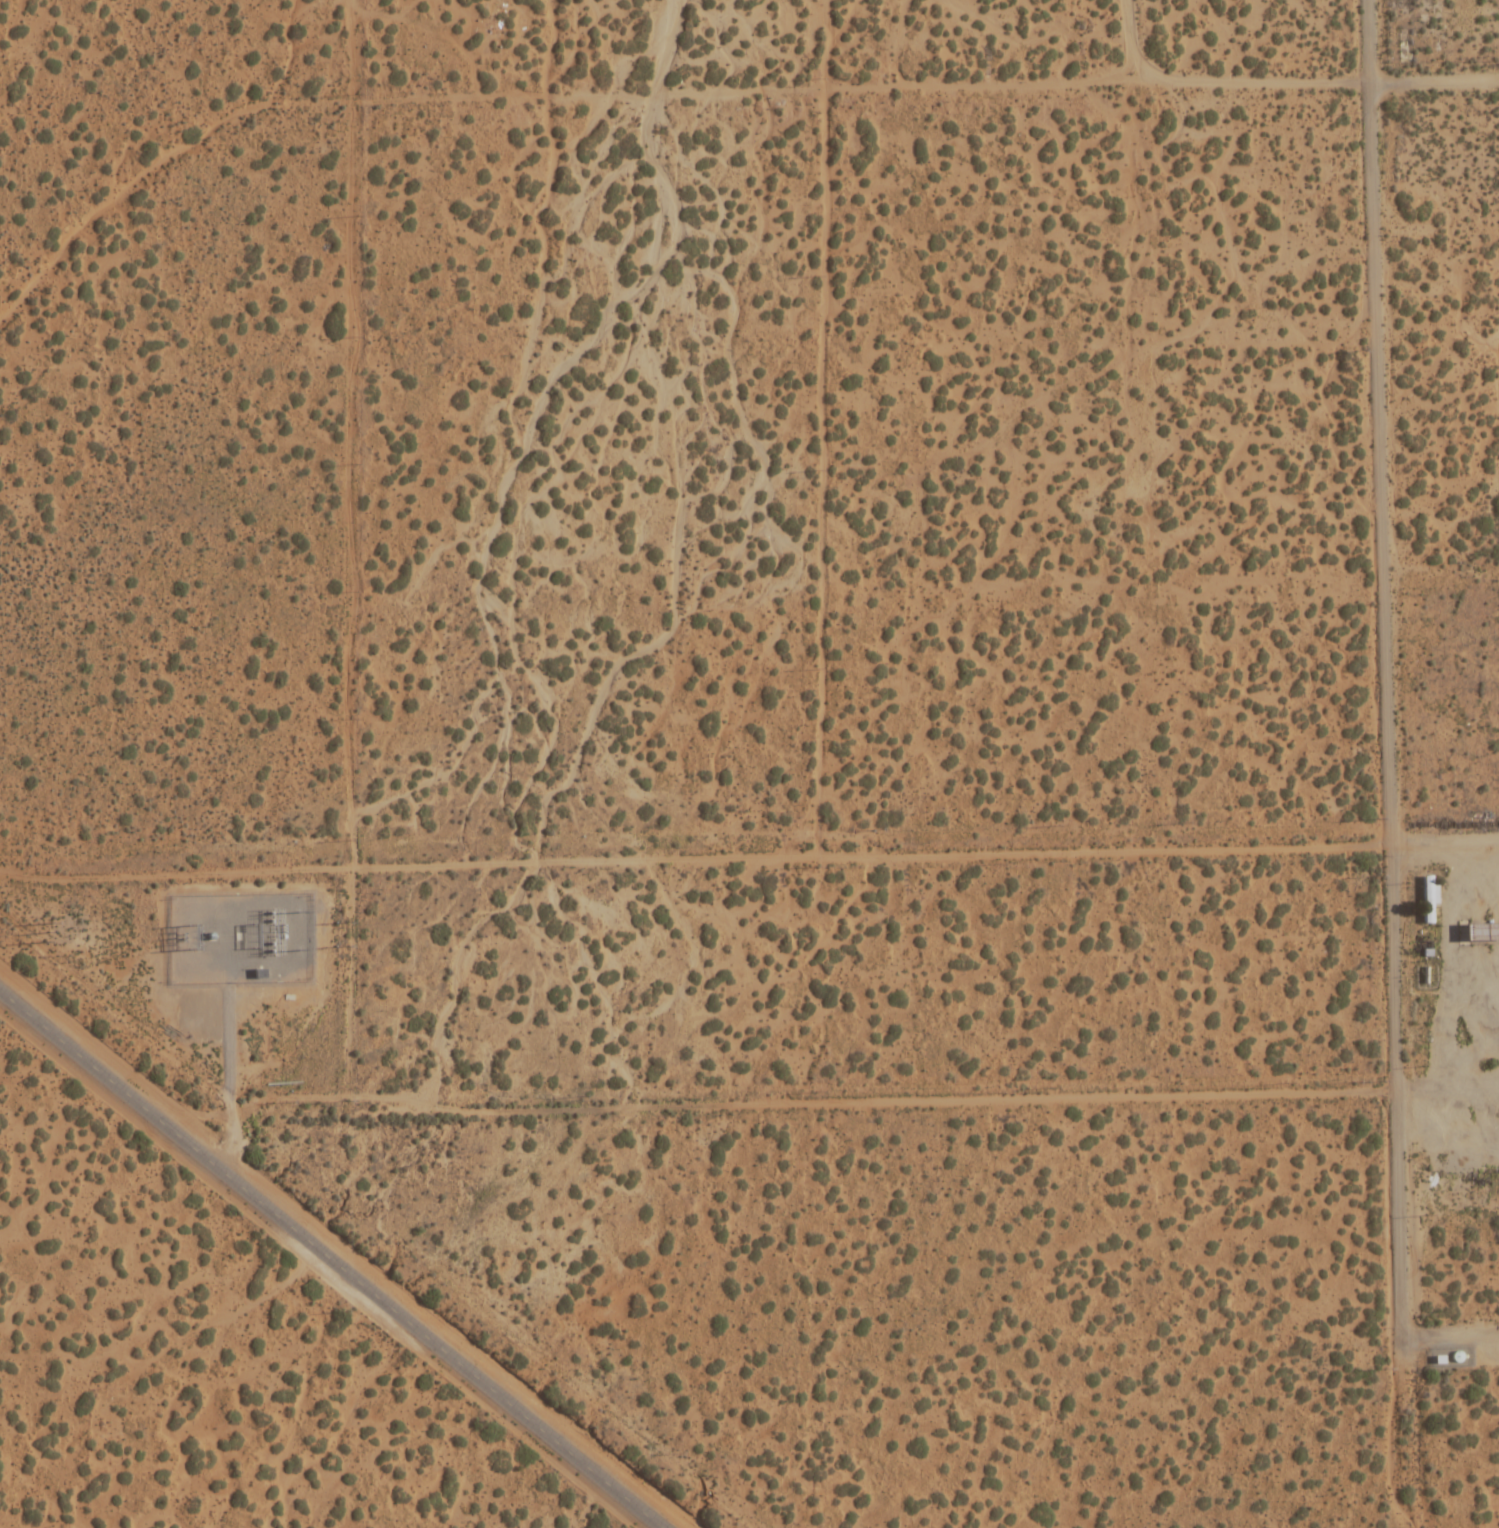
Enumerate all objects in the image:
road: (1127, 38)
road: (1369, 41)
road: (1081, 79)
road: (1388, 712)
road: (1274, 839)
building: (1428, 900)
power tower: (48, 932)
power tower: (190, 935)
power substation: (240, 939)
building: (260, 974)
road: (1262, 1080)
road: (330, 1259)
road: (1450, 1342)

